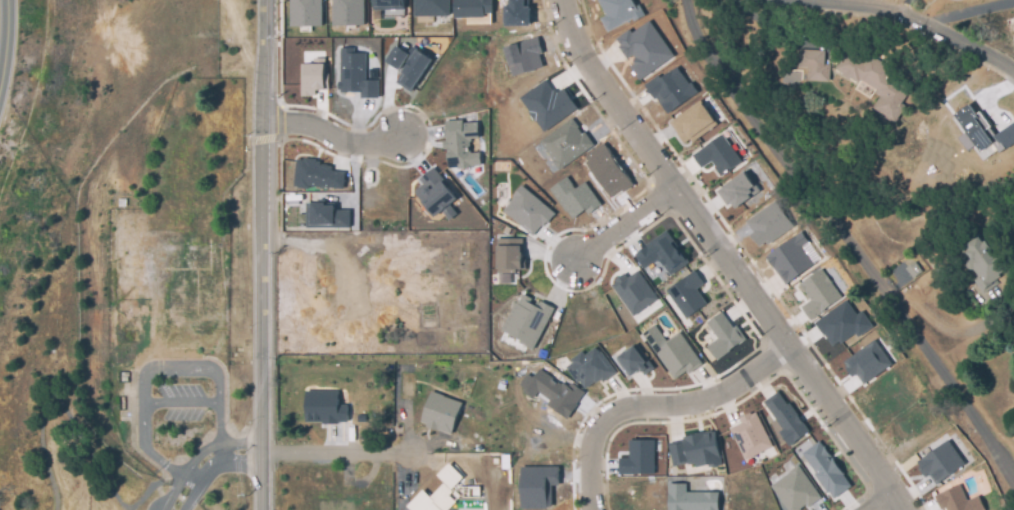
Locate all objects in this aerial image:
building: (388, 5)
building: (431, 7)
building: (472, 8)
building: (347, 12)
building: (517, 12)
building: (618, 12)
building: (306, 13)
road: (966, 14)
road: (918, 24)
road: (5, 40)
building: (643, 48)
building: (523, 56)
building: (408, 65)
building: (814, 65)
building: (356, 73)
building: (312, 76)
building: (877, 83)
building: (670, 89)
building: (547, 104)
building: (692, 122)
road: (331, 132)
building: (981, 133)
building: (567, 140)
building: (460, 144)
building: (717, 155)
building: (607, 170)
building: (428, 175)
building: (322, 176)
building: (737, 190)
building: (574, 197)
building: (527, 210)
building: (326, 216)
road: (630, 223)
building: (767, 224)
road: (853, 248)
road: (268, 254)
building: (661, 254)
building: (509, 255)
building: (792, 257)
road: (726, 258)
building: (982, 263)
building: (913, 270)
building: (634, 291)
building: (818, 293)
building: (687, 294)
building: (527, 319)
building: (842, 323)
building: (722, 335)
building: (672, 352)
building: (632, 361)
building: (866, 362)
building: (589, 368)
building: (285, 369)
road: (155, 370)
building: (552, 392)
road: (180, 403)
road: (656, 411)
building: (440, 412)
building: (785, 418)
building: (751, 434)
building: (516, 448)
building: (695, 450)
road: (331, 454)
building: (638, 457)
building: (939, 462)
building: (514, 466)
road: (97, 469)
road: (211, 469)
building: (825, 469)
building: (795, 489)
building: (690, 498)
building: (957, 500)
road: (901, 508)

